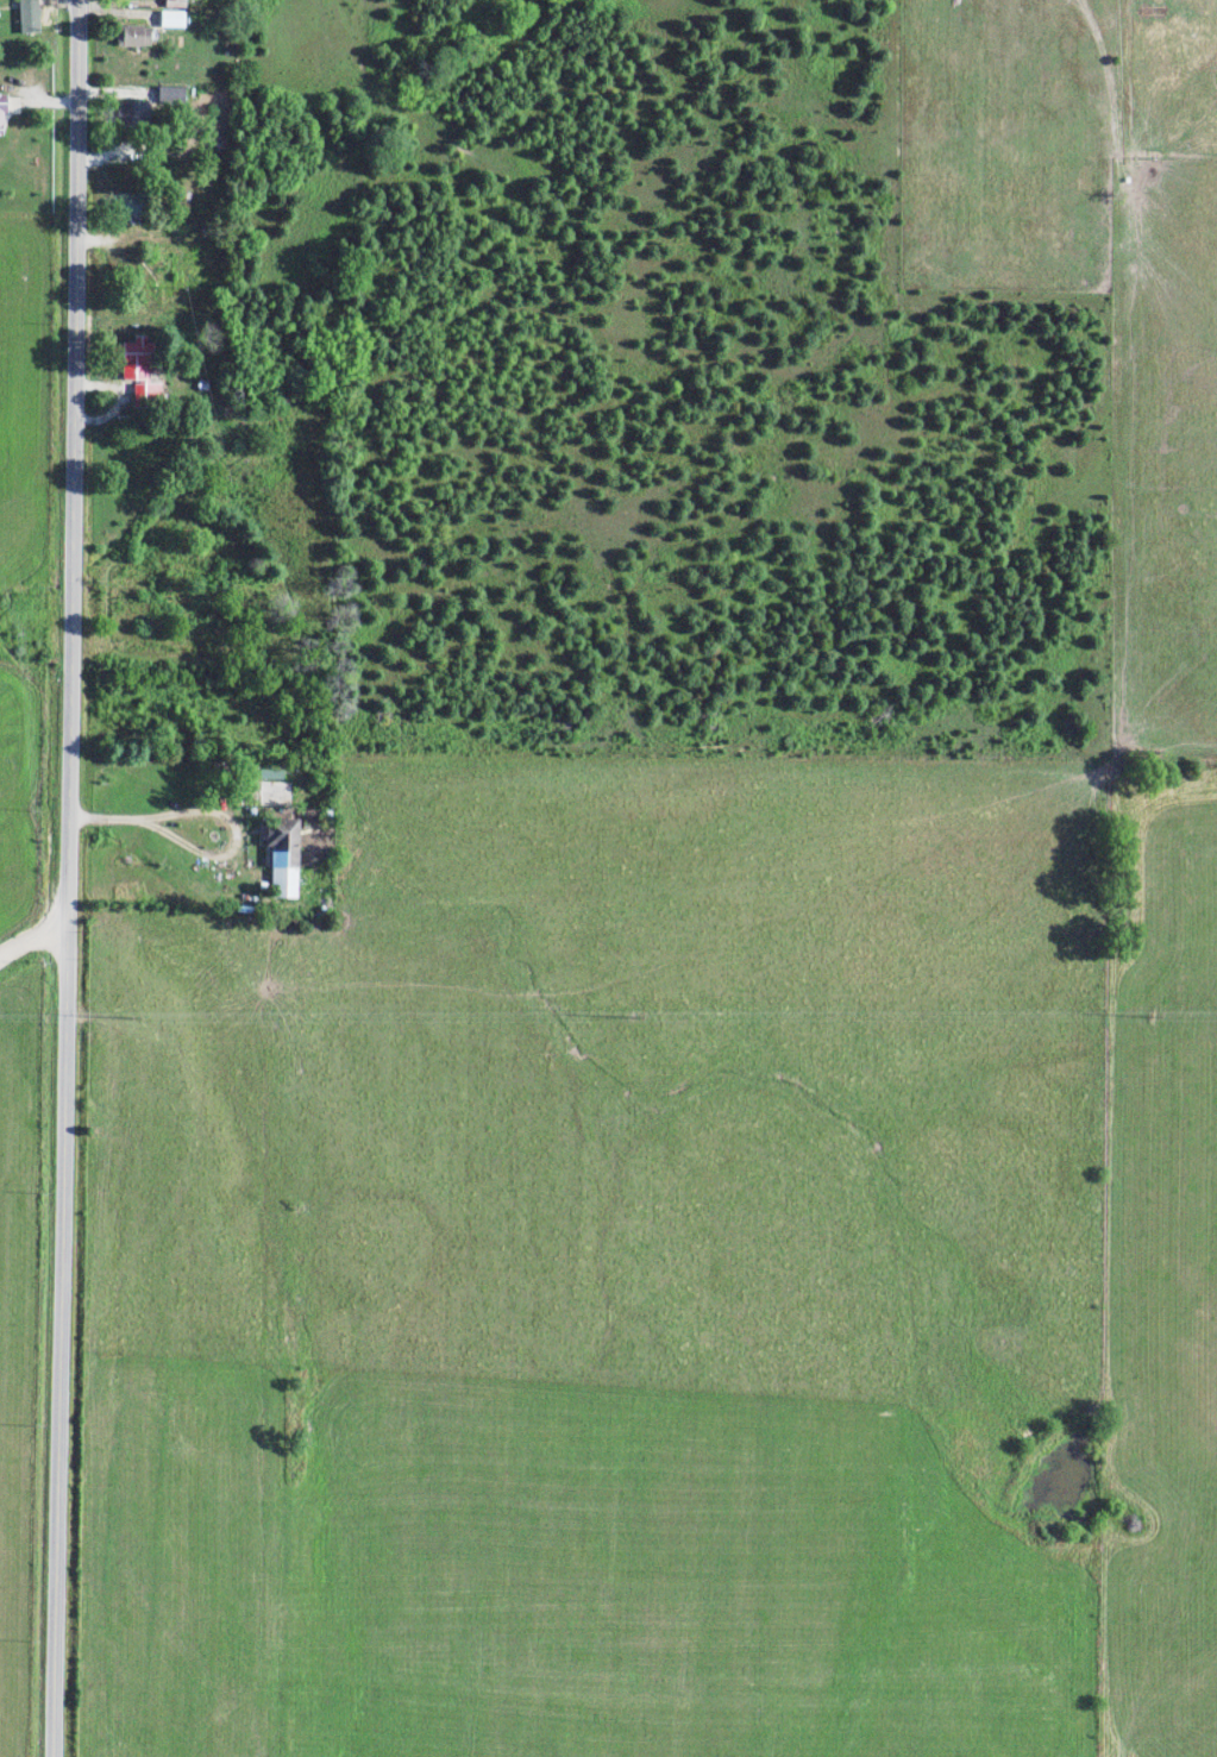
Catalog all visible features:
building: (27, 17)
building: (171, 19)
building: (132, 36)
building: (169, 98)
building: (131, 114)
building: (0, 115)
building: (126, 203)
building: (136, 369)
building: (274, 793)
building: (281, 856)
road: (48, 878)
road: (24, 974)

